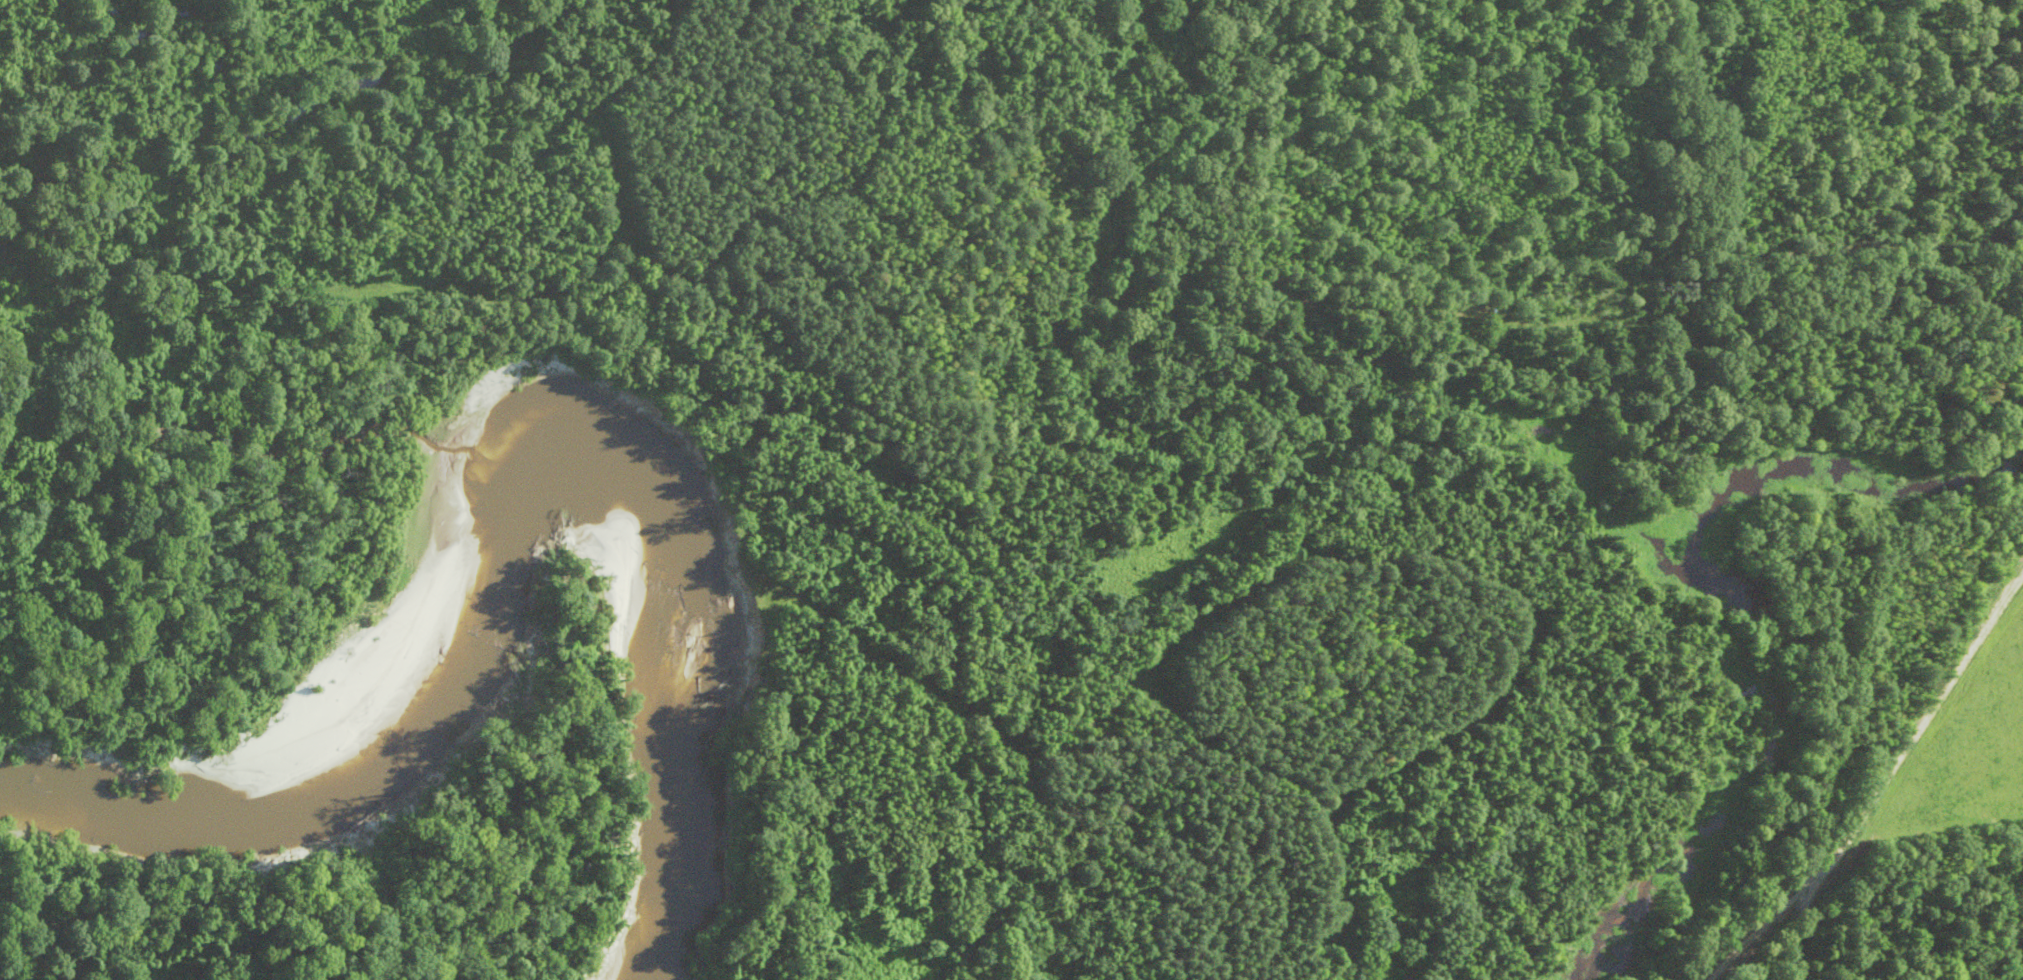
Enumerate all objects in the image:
road: (596, 191)
river: (478, 452)

